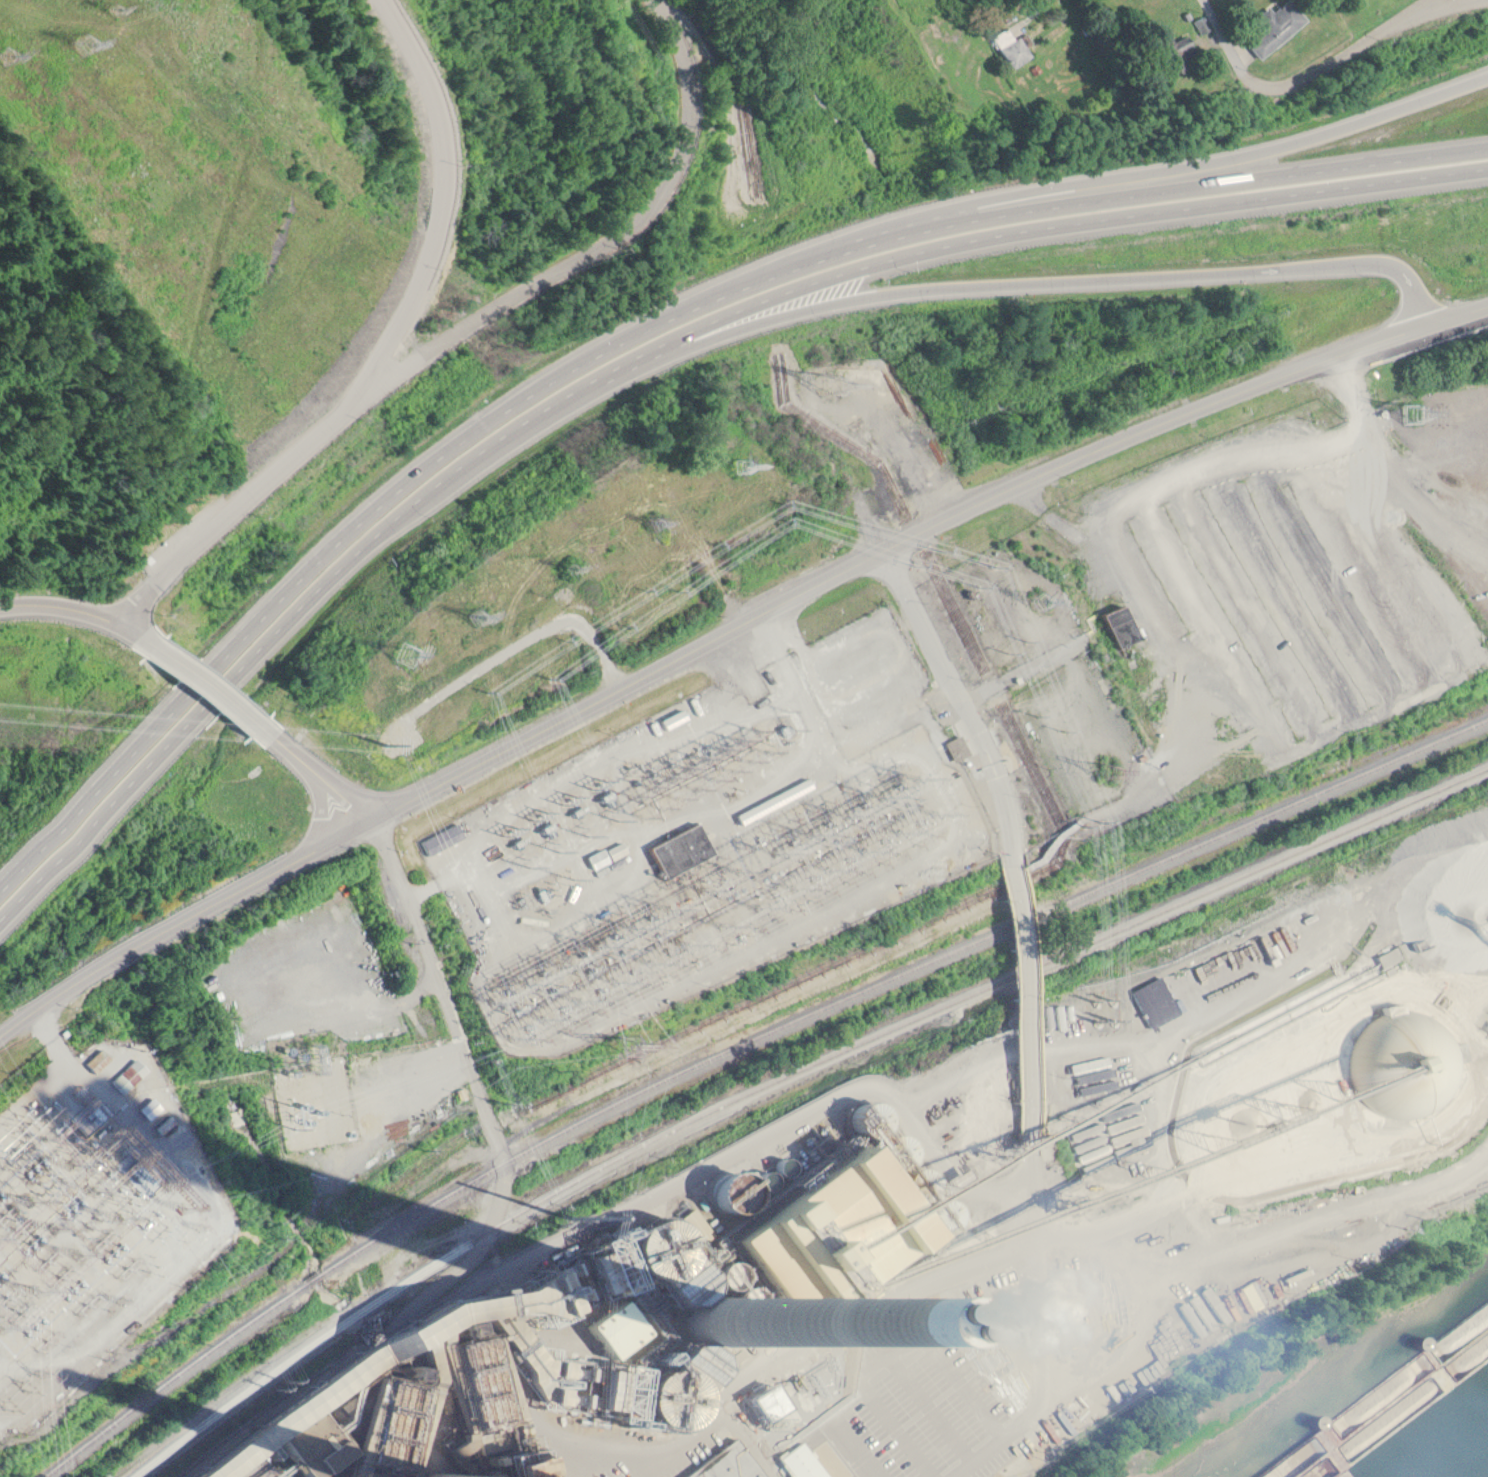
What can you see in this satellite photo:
road: (1028, 6)
building: (1272, 24)
building: (1011, 45)
building: (1168, 50)
road: (1297, 76)
road: (1084, 179)
road: (908, 287)
road: (646, 326)
road: (646, 348)
power tower: (841, 383)
power tower: (1412, 408)
road: (1392, 462)
power tower: (732, 463)
power tower: (637, 515)
power tower: (567, 568)
power tower: (978, 578)
parking lot: (1296, 593)
road: (87, 605)
power tower: (473, 611)
building: (1122, 623)
road: (726, 626)
power tower: (400, 659)
building: (1147, 666)
parking lot: (861, 676)
road: (215, 683)
road: (964, 688)
power tower: (364, 733)
building: (955, 746)
road: (318, 768)
power tower: (1081, 822)
building: (674, 843)
building: (615, 849)
power substation: (683, 855)
building: (339, 896)
building: (1282, 939)
building: (360, 954)
building: (1387, 954)
building: (1235, 959)
building: (1211, 969)
road: (1019, 981)
building: (1157, 994)
road: (454, 1020)
railway: (731, 1032)
road: (1123, 1036)
power plant: (833, 1043)
building: (1401, 1056)
storage tank: (1401, 1056)
building: (96, 1060)
railway: (793, 1067)
building: (130, 1071)
road: (842, 1095)
building: (163, 1124)
building: (961, 1125)
road: (1030, 1166)
power substation: (101, 1217)
building: (1323, 1273)
building: (651, 1307)
building: (1197, 1314)
chimney: (722, 1320)
building: (729, 1460)
building: (978, 1473)

